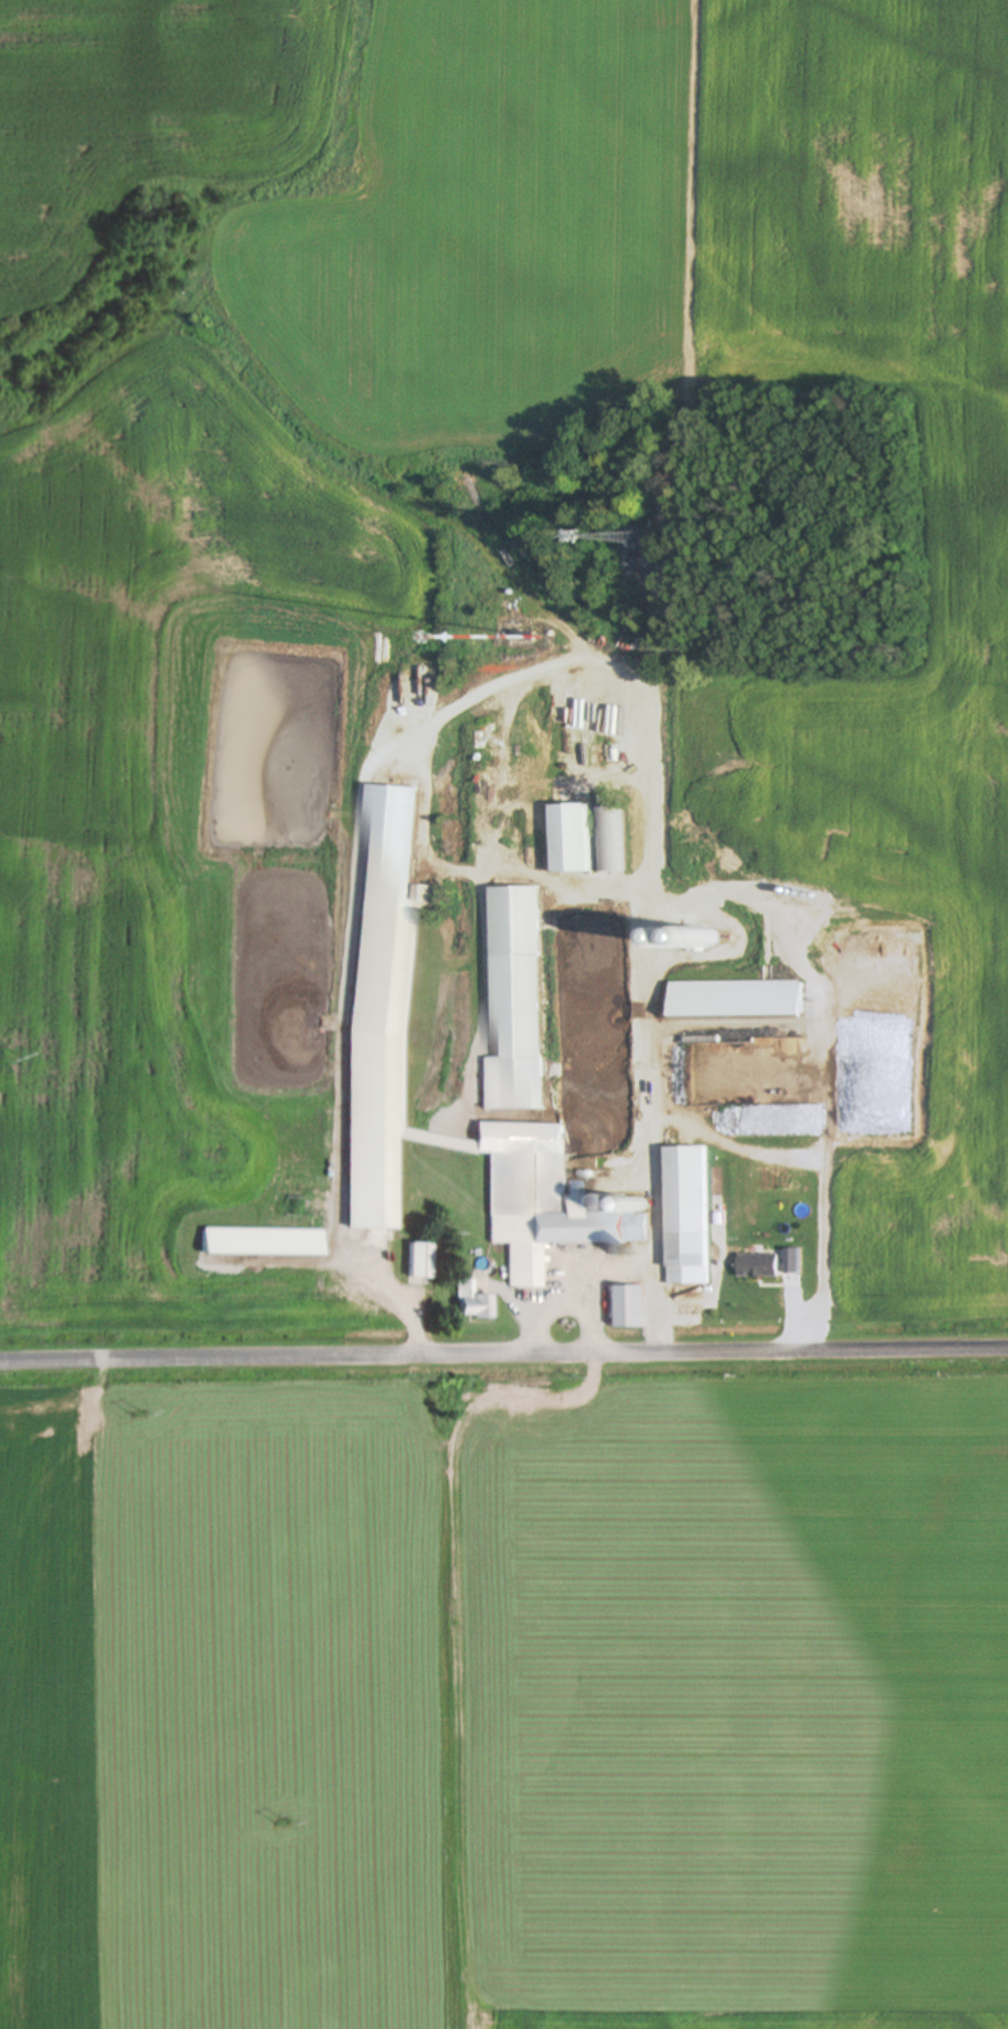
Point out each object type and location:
building: (587, 840)
building: (398, 848)
road: (353, 912)
road: (652, 931)
building: (702, 941)
building: (741, 1000)
building: (519, 1005)
power tower: (19, 1056)
building: (589, 1208)
building: (267, 1244)
building: (422, 1262)
building: (795, 1262)
building: (762, 1267)
building: (475, 1303)
building: (627, 1308)
road: (790, 1311)
road: (504, 1354)
road: (594, 1375)
power tower: (146, 1414)
power tower: (291, 1819)

